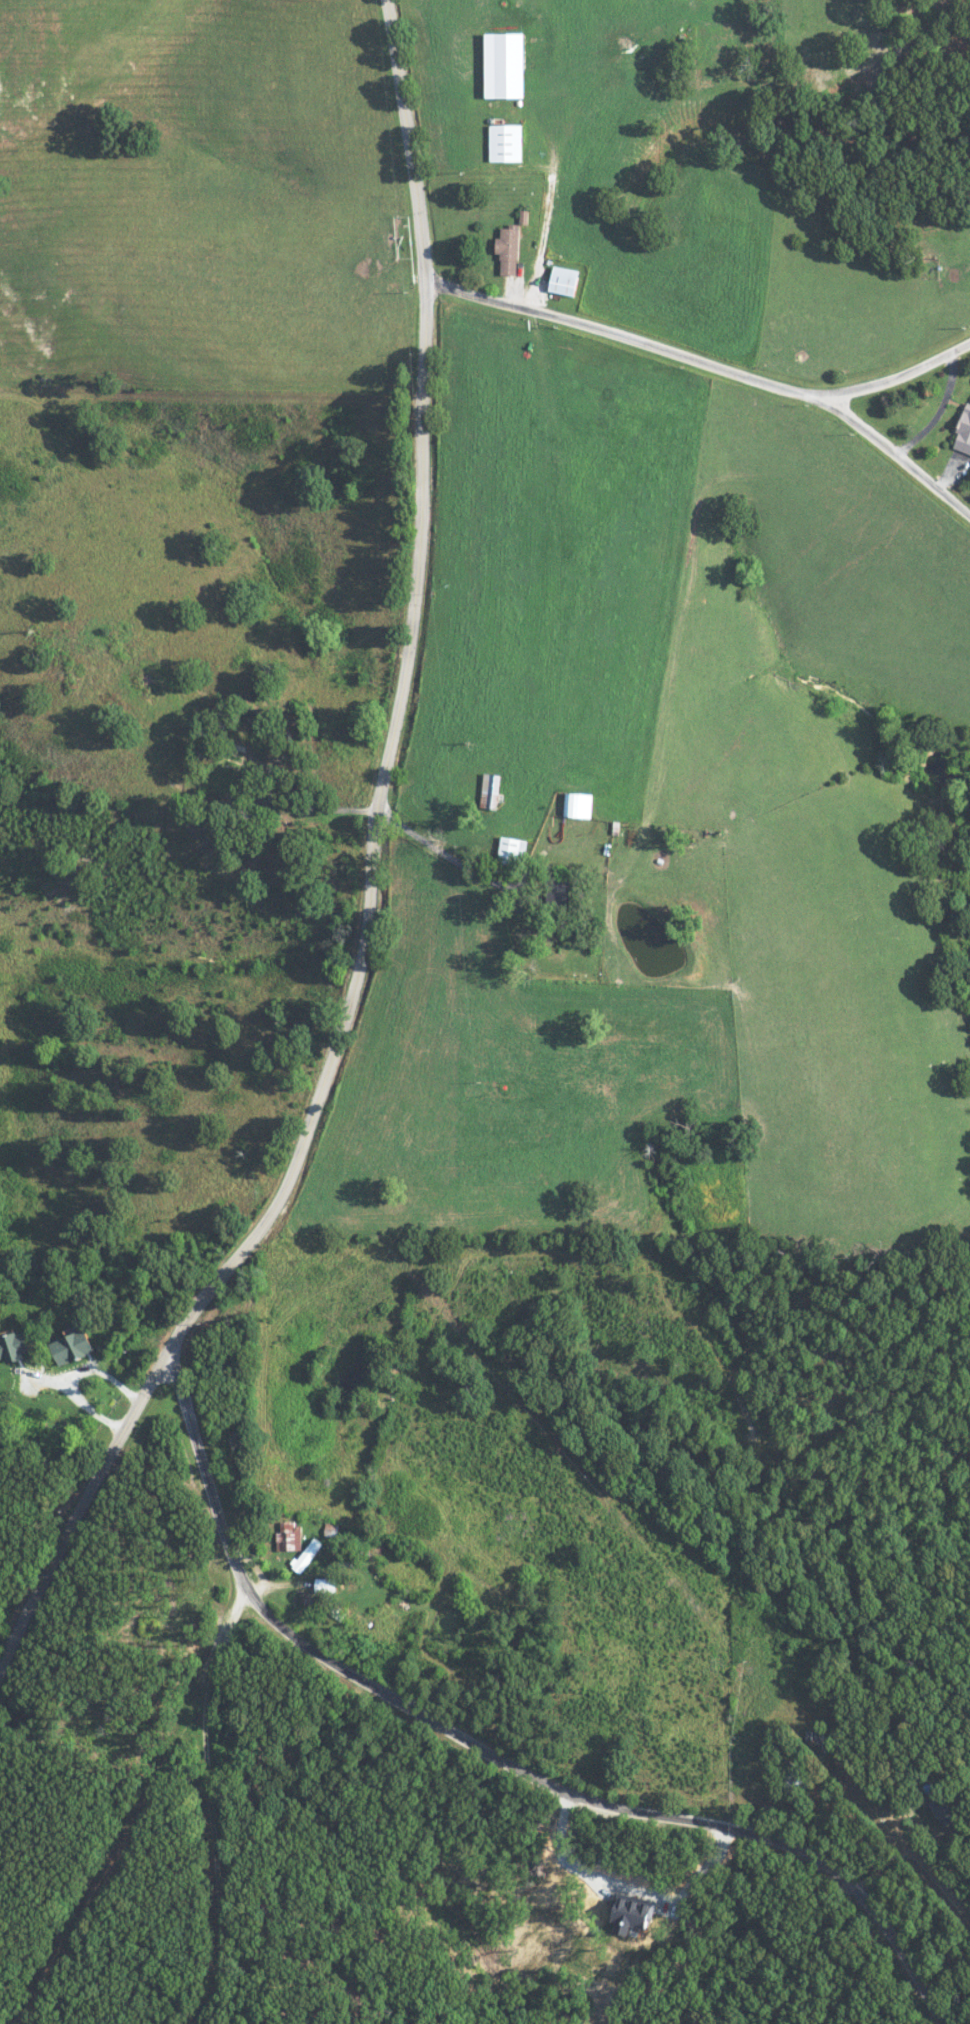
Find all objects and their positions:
building: (507, 65)
building: (507, 143)
road: (545, 219)
building: (510, 250)
building: (567, 281)
road: (712, 364)
road: (895, 378)
building: (964, 432)
building: (153, 684)
building: (238, 756)
building: (492, 787)
building: (579, 804)
building: (513, 849)
road: (370, 875)
building: (75, 1346)
building: (15, 1347)
building: (291, 1536)
building: (309, 1554)
building: (327, 1585)
road: (496, 1756)
building: (794, 1779)
building: (944, 1811)
building: (635, 1914)

